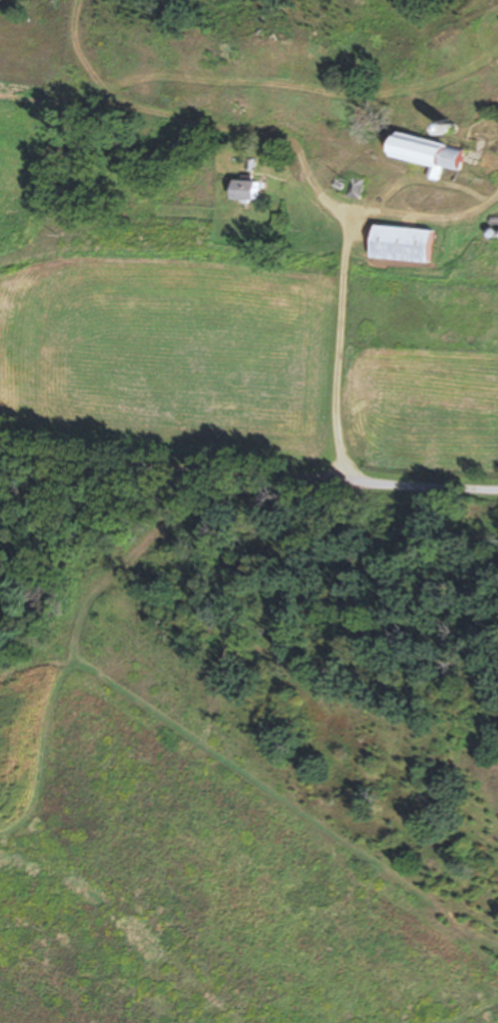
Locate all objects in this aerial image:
building: (424, 153)
building: (354, 187)
building: (244, 190)
building: (401, 244)
road: (340, 350)
road: (176, 466)
road: (426, 485)

